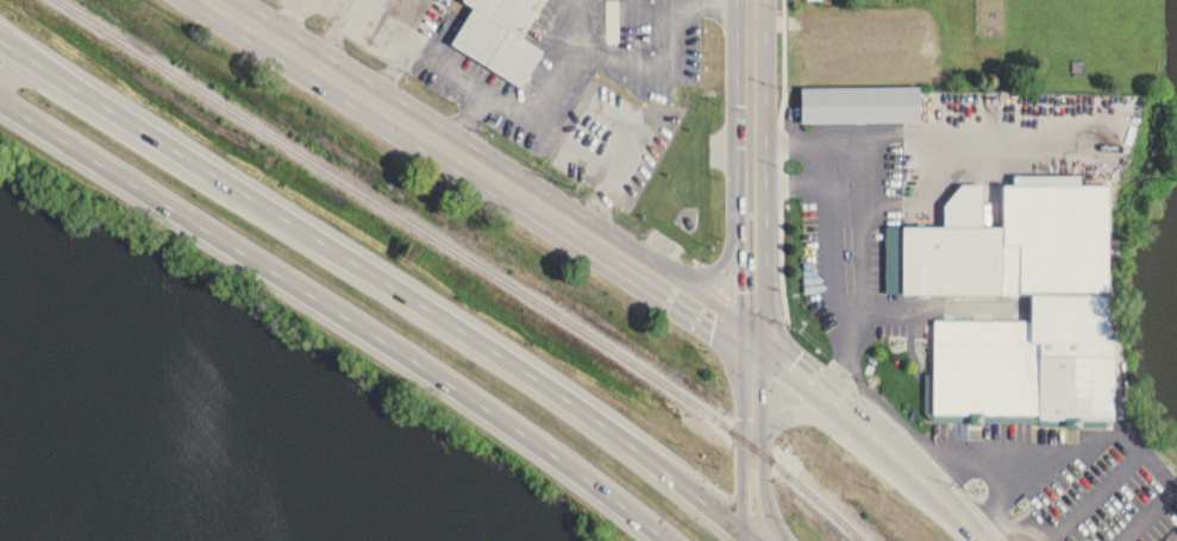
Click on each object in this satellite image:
road: (718, 5)
building: (397, 20)
building: (614, 23)
building: (499, 36)
building: (826, 45)
road: (531, 92)
building: (858, 102)
road: (140, 143)
road: (827, 163)
road: (845, 163)
road: (478, 169)
road: (753, 169)
railway: (411, 216)
building: (949, 250)
road: (710, 273)
road: (386, 278)
road: (860, 285)
road: (339, 310)
building: (1028, 359)
road: (752, 391)
road: (793, 408)
road: (875, 432)
road: (1106, 438)
road: (741, 490)
road: (760, 490)
railway: (807, 492)
road: (769, 509)
traffic signals: (751, 536)
road: (751, 539)

